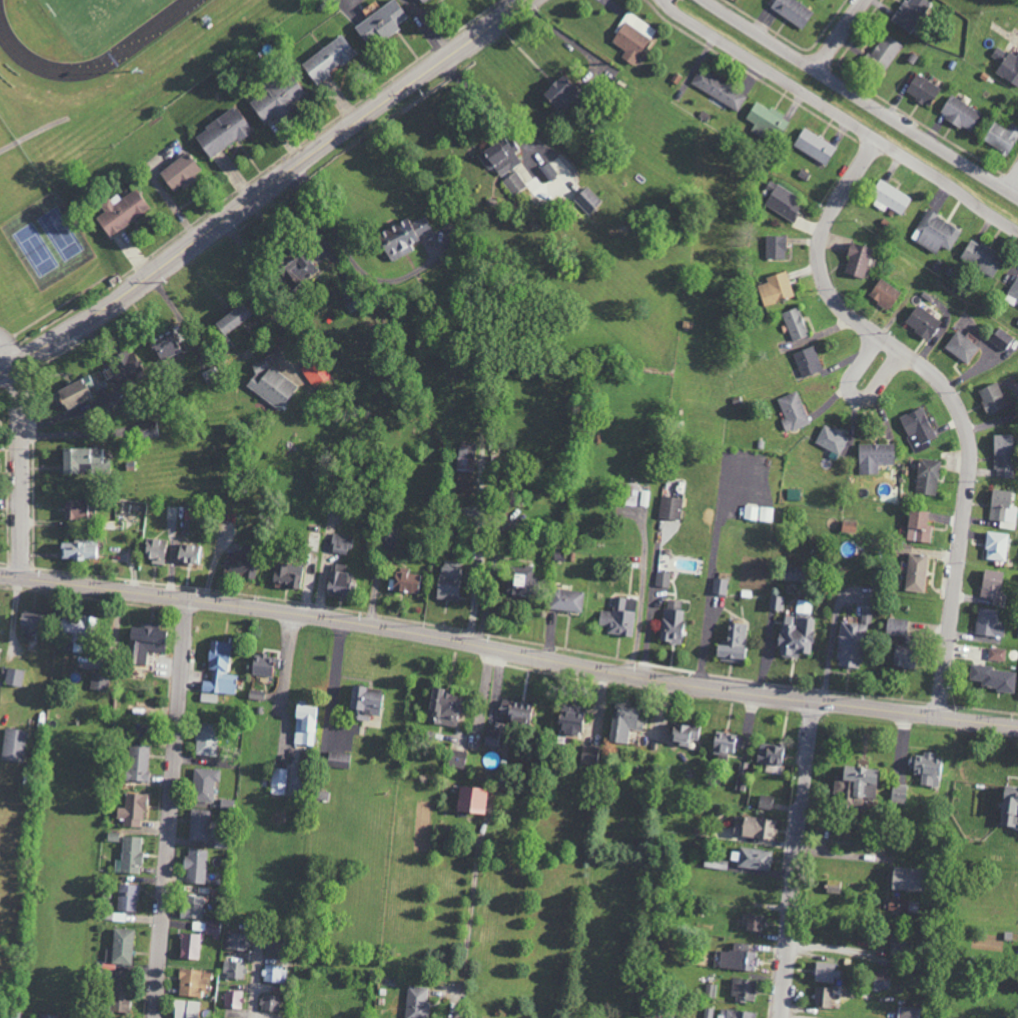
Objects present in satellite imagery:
building: (420, 1)
building: (792, 11)
building: (908, 14)
park: (89, 19)
building: (380, 23)
road: (840, 33)
building: (631, 36)
track: (135, 39)
building: (883, 52)
building: (326, 59)
building: (1006, 65)
building: (718, 89)
building: (921, 89)
building: (557, 91)
building: (275, 97)
road: (863, 98)
building: (959, 113)
road: (843, 114)
building: (766, 119)
building: (221, 132)
building: (1001, 137)
building: (813, 146)
building: (500, 156)
building: (179, 172)
building: (546, 172)
building: (514, 182)
road: (1013, 184)
road: (262, 188)
building: (889, 196)
building: (587, 199)
building: (783, 201)
building: (120, 211)
building: (935, 232)
park: (60, 233)
building: (400, 237)
building: (774, 247)
park: (35, 250)
road: (347, 255)
building: (980, 257)
building: (856, 260)
building: (295, 267)
building: (775, 288)
building: (1013, 292)
building: (883, 293)
building: (229, 318)
building: (922, 322)
building: (794, 323)
building: (1000, 338)
building: (961, 347)
building: (162, 348)
road: (7, 351)
building: (807, 361)
building: (121, 365)
building: (269, 384)
road: (948, 393)
building: (69, 394)
road: (854, 394)
building: (991, 398)
building: (791, 411)
building: (917, 425)
building: (146, 430)
building: (831, 439)
building: (465, 456)
building: (1002, 456)
building: (874, 457)
building: (80, 460)
road: (25, 467)
building: (927, 476)
building: (794, 494)
building: (635, 495)
building: (670, 508)
building: (73, 509)
building: (1002, 510)
building: (758, 513)
building: (847, 526)
building: (917, 527)
building: (389, 537)
building: (339, 544)
building: (996, 546)
building: (154, 550)
building: (76, 551)
building: (187, 554)
building: (238, 566)
building: (915, 572)
building: (791, 573)
building: (285, 574)
building: (335, 580)
building: (405, 580)
building: (448, 580)
building: (516, 581)
building: (990, 584)
building: (719, 586)
building: (566, 600)
building: (775, 603)
building: (618, 617)
building: (671, 623)
building: (988, 623)
building: (26, 624)
building: (76, 625)
building: (895, 627)
building: (794, 636)
building: (850, 642)
building: (144, 643)
building: (731, 643)
road: (508, 648)
building: (996, 654)
building: (900, 657)
building: (261, 665)
building: (218, 670)
road: (335, 675)
building: (14, 677)
road: (285, 677)
building: (993, 677)
building: (98, 682)
building: (362, 703)
building: (441, 708)
building: (515, 711)
building: (569, 719)
building: (622, 723)
building: (305, 725)
building: (682, 733)
building: (490, 738)
building: (206, 740)
building: (725, 744)
building: (12, 745)
building: (588, 754)
building: (769, 754)
building: (455, 759)
building: (338, 760)
building: (136, 762)
building: (926, 769)
building: (278, 782)
building: (203, 784)
building: (853, 785)
building: (898, 793)
building: (469, 800)
building: (764, 802)
road: (171, 807)
building: (1008, 807)
building: (131, 811)
building: (199, 825)
building: (755, 828)
building: (128, 856)
road: (799, 858)
building: (751, 859)
building: (195, 866)
building: (903, 879)
building: (833, 887)
building: (127, 897)
road: (472, 902)
building: (190, 907)
building: (752, 922)
building: (212, 929)
building: (236, 942)
building: (189, 946)
building: (119, 948)
building: (737, 958)
building: (233, 969)
building: (823, 972)
building: (274, 974)
road: (259, 975)
building: (881, 980)
building: (192, 982)
building: (743, 990)
building: (118, 997)
building: (822, 997)
building: (233, 999)
road: (463, 1000)
building: (416, 1002)
building: (269, 1003)
building: (184, 1009)
building: (708, 1013)
building: (736, 1014)
building: (10, 1015)
building: (46, 1016)

